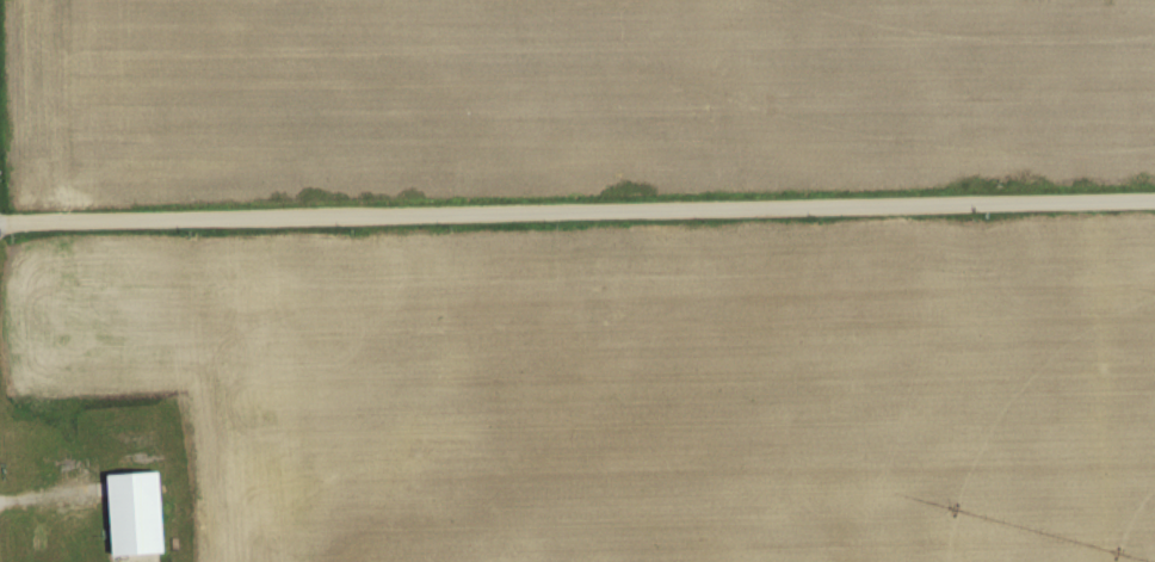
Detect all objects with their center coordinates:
road: (577, 214)
building: (134, 513)

